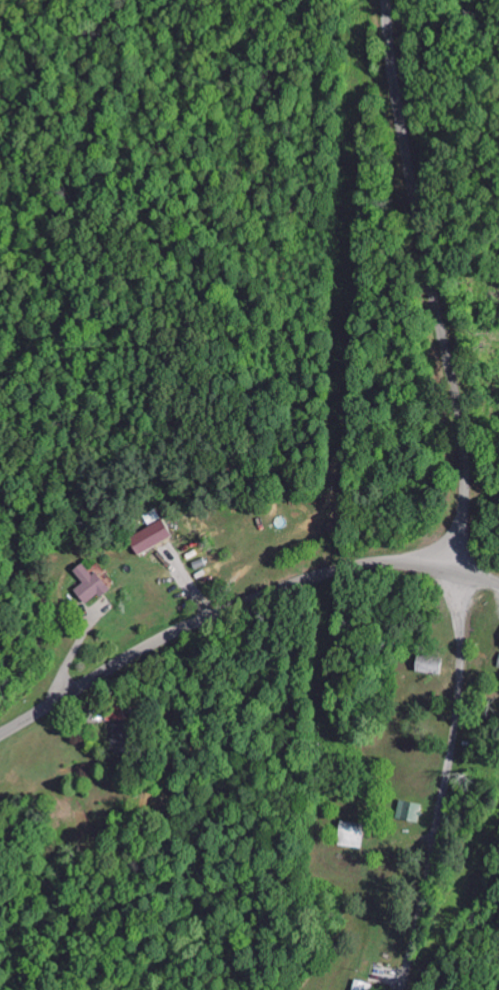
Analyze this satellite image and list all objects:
road: (426, 286)
building: (148, 536)
road: (478, 577)
building: (87, 584)
road: (217, 614)
building: (497, 661)
building: (426, 665)
building: (114, 712)
building: (120, 737)
road: (445, 782)
building: (407, 810)

